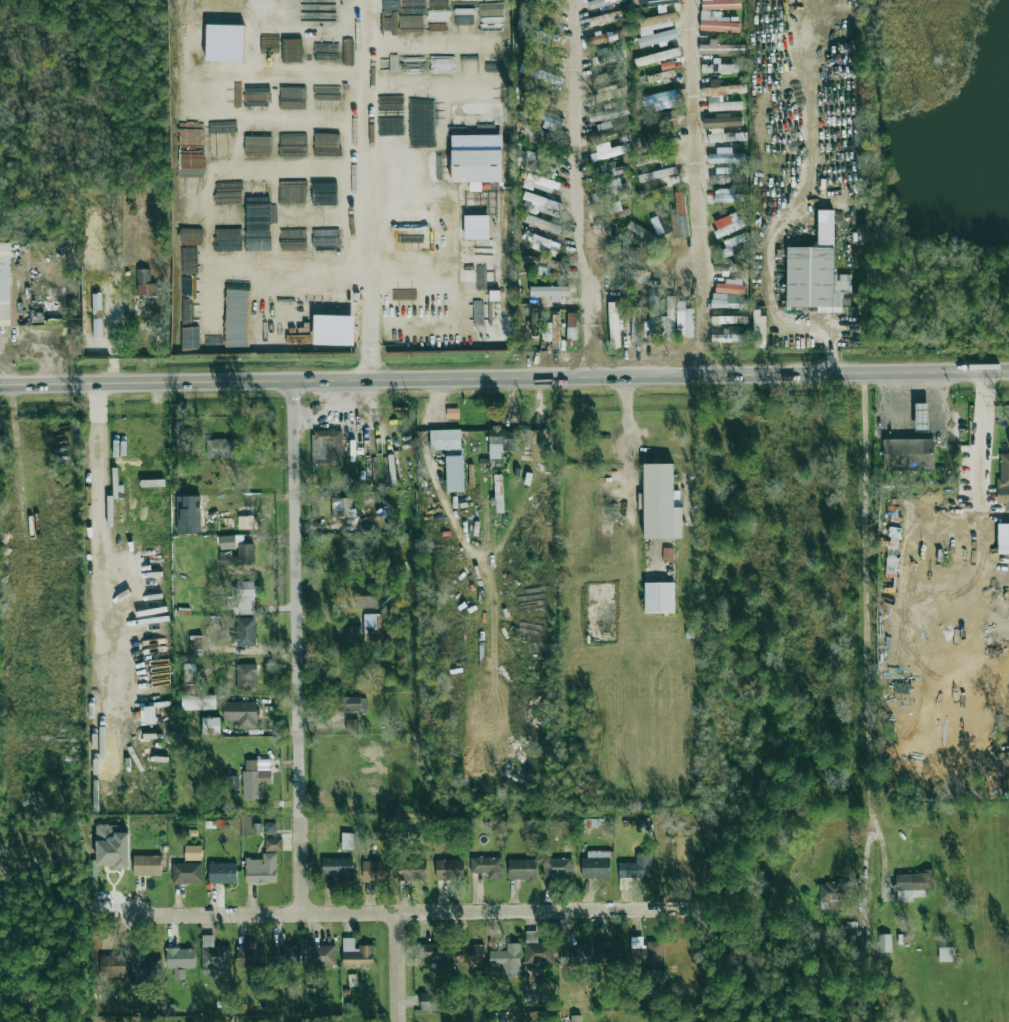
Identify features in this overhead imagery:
building: (601, 3)
building: (653, 4)
building: (720, 4)
building: (271, 12)
building: (541, 12)
building: (188, 17)
building: (606, 18)
building: (718, 23)
building: (657, 28)
building: (540, 37)
building: (607, 37)
building: (721, 48)
building: (291, 50)
building: (605, 54)
building: (657, 56)
building: (666, 65)
building: (719, 67)
building: (608, 75)
building: (660, 75)
building: (722, 89)
building: (610, 93)
building: (658, 97)
building: (722, 104)
building: (610, 111)
building: (548, 117)
building: (661, 117)
building: (722, 121)
building: (604, 125)
building: (604, 133)
building: (534, 134)
building: (726, 136)
building: (608, 151)
building: (646, 158)
building: (726, 158)
building: (539, 164)
building: (475, 165)
building: (614, 169)
building: (723, 175)
building: (657, 177)
building: (542, 183)
road: (693, 187)
road: (369, 189)
road: (576, 189)
building: (612, 191)
building: (728, 196)
building: (542, 202)
road: (798, 212)
building: (679, 217)
building: (542, 224)
building: (727, 225)
building: (825, 227)
building: (641, 232)
building: (542, 243)
building: (635, 275)
building: (815, 279)
building: (5, 283)
building: (145, 283)
building: (730, 286)
building: (551, 293)
building: (477, 299)
building: (735, 299)
building: (54, 311)
building: (97, 316)
building: (653, 319)
building: (684, 320)
building: (668, 322)
building: (635, 323)
building: (613, 324)
building: (571, 325)
building: (758, 328)
building: (553, 331)
building: (331, 332)
building: (732, 335)
building: (190, 338)
road: (45, 348)
road: (504, 378)
building: (921, 416)
road: (982, 416)
building: (445, 439)
building: (500, 441)
road: (626, 447)
building: (220, 448)
building: (329, 449)
building: (907, 454)
building: (455, 474)
road: (99, 476)
building: (1003, 481)
building: (660, 503)
building: (341, 507)
building: (245, 522)
building: (1003, 538)
building: (227, 542)
building: (239, 555)
building: (365, 596)
building: (243, 597)
building: (659, 597)
road: (863, 625)
building: (377, 629)
building: (245, 631)
building: (345, 636)
building: (196, 643)
road: (297, 648)
building: (190, 673)
building: (246, 677)
building: (187, 689)
building: (199, 702)
building: (352, 703)
building: (241, 713)
building: (352, 724)
building: (211, 726)
building: (252, 780)
building: (232, 782)
building: (270, 827)
building: (347, 841)
building: (273, 844)
building: (111, 846)
road: (879, 850)
building: (193, 852)
building: (596, 864)
building: (147, 865)
building: (487, 867)
building: (557, 867)
building: (636, 867)
building: (338, 868)
building: (261, 869)
building: (450, 869)
building: (522, 869)
building: (376, 870)
building: (411, 870)
building: (186, 873)
building: (222, 873)
building: (913, 885)
building: (832, 894)
road: (417, 912)
building: (851, 927)
building: (884, 943)
building: (537, 949)
building: (645, 951)
building: (435, 952)
building: (610, 952)
building: (471, 953)
building: (356, 954)
building: (945, 954)
building: (286, 955)
building: (576, 955)
building: (321, 956)
building: (249, 957)
building: (180, 958)
building: (214, 958)
building: (507, 960)
building: (112, 966)
building: (145, 967)
road: (397, 967)
building: (429, 1001)
building: (575, 1018)

